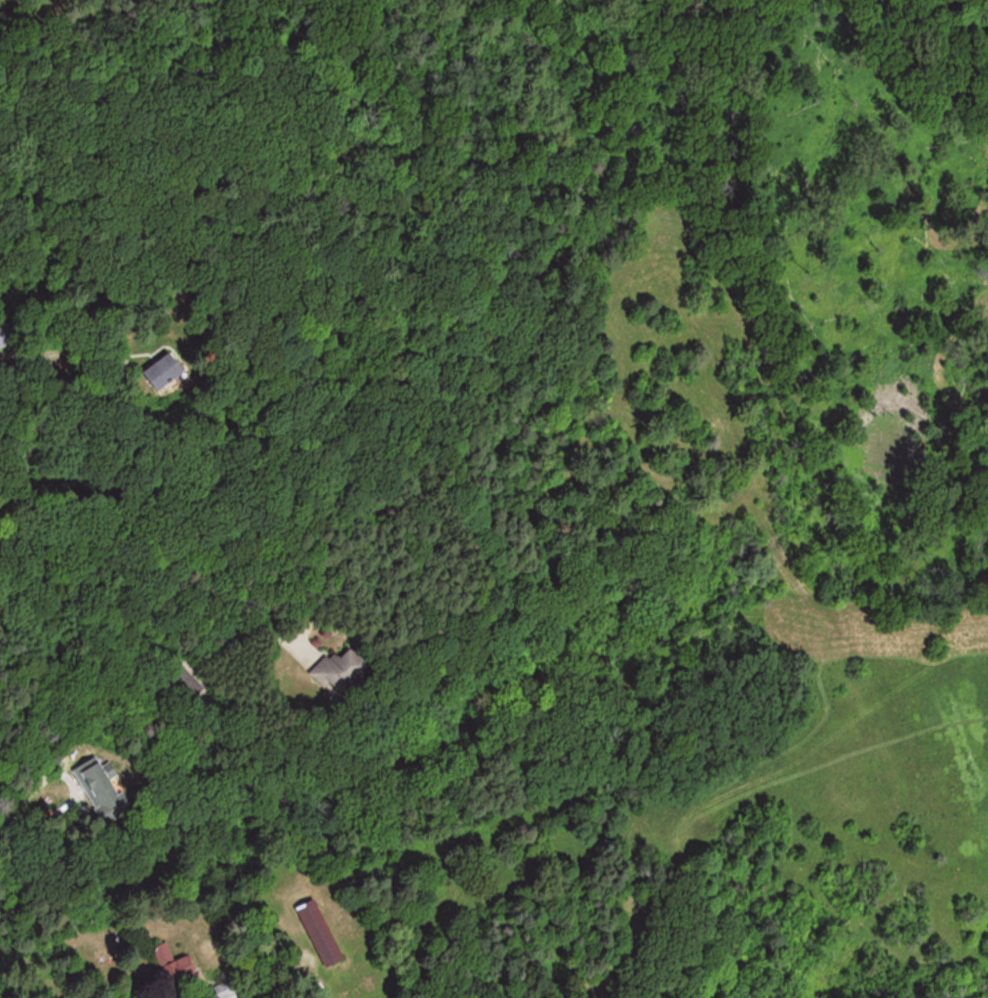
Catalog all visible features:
building: (6, 333)
building: (171, 370)
road: (116, 560)
building: (347, 669)
road: (73, 787)
building: (107, 791)
road: (6, 814)
building: (326, 935)
building: (178, 967)

